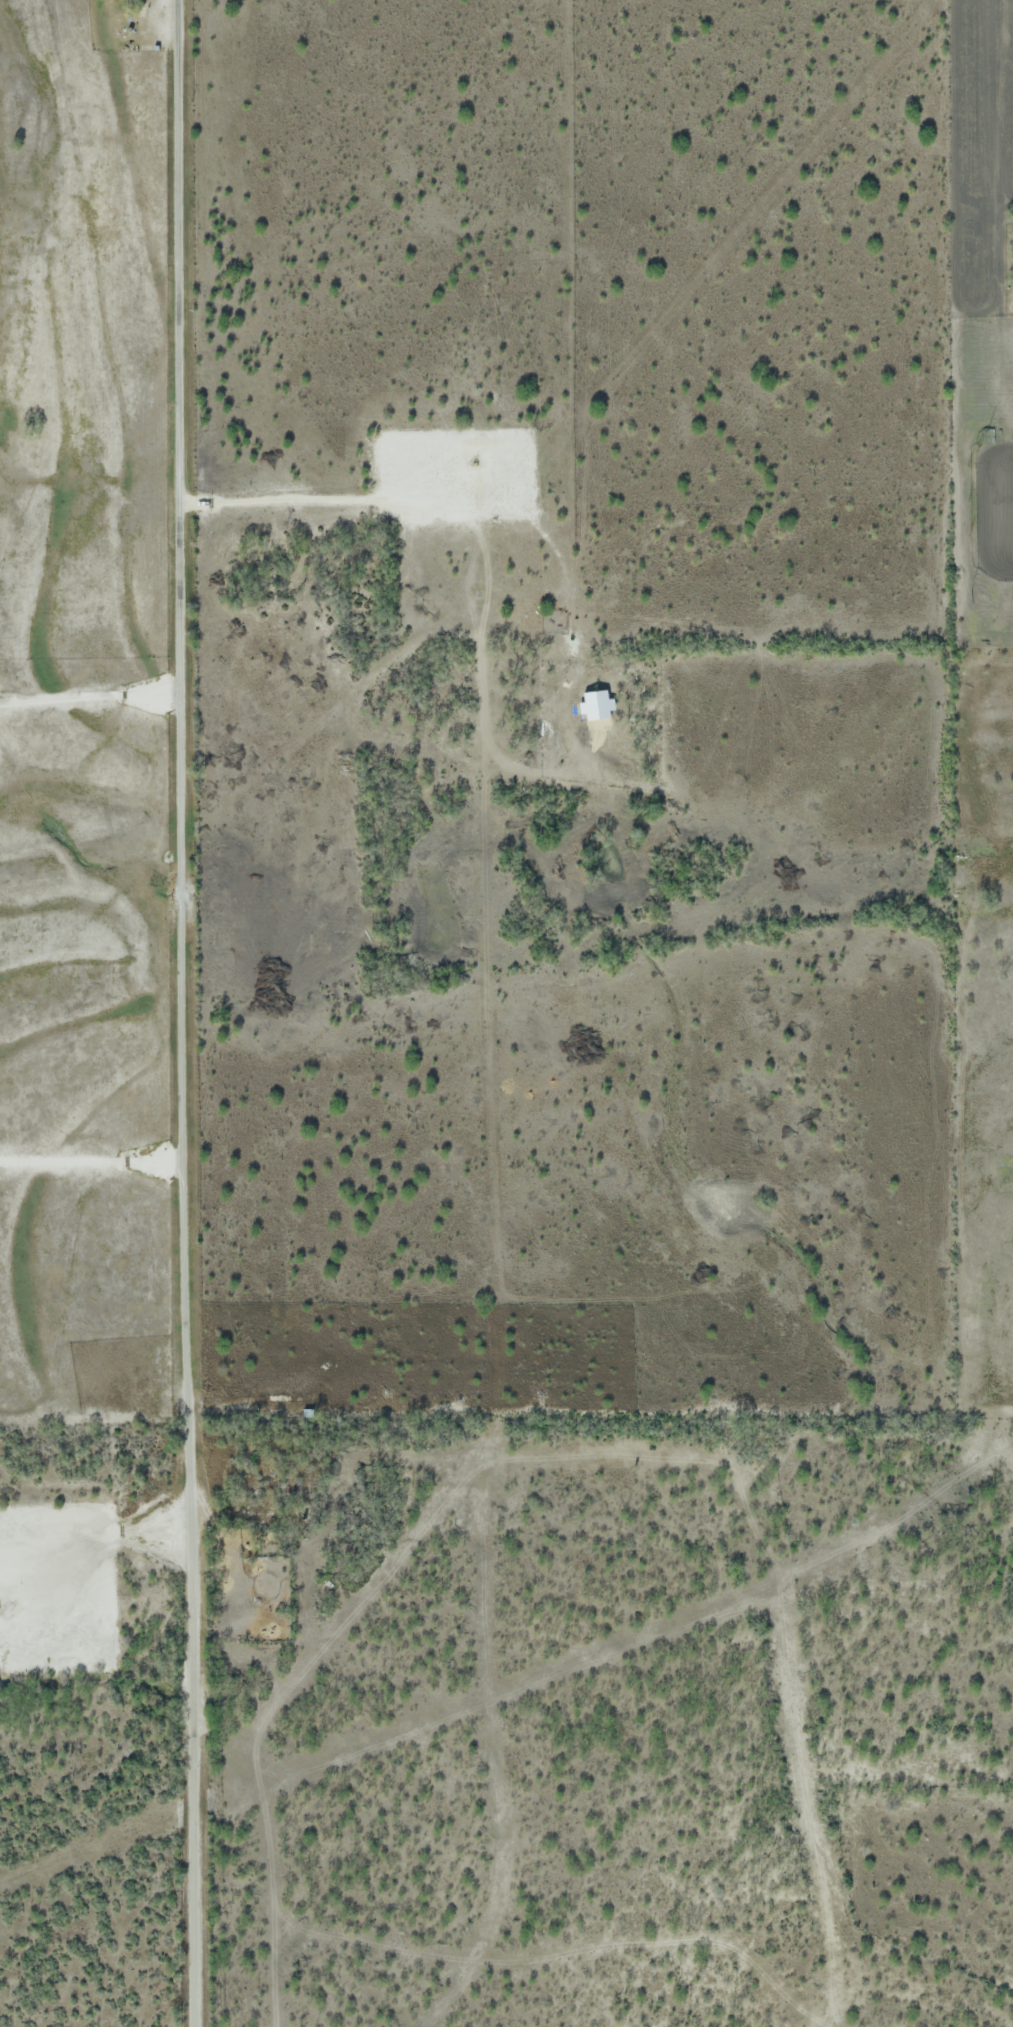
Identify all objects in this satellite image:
road: (191, 1013)

